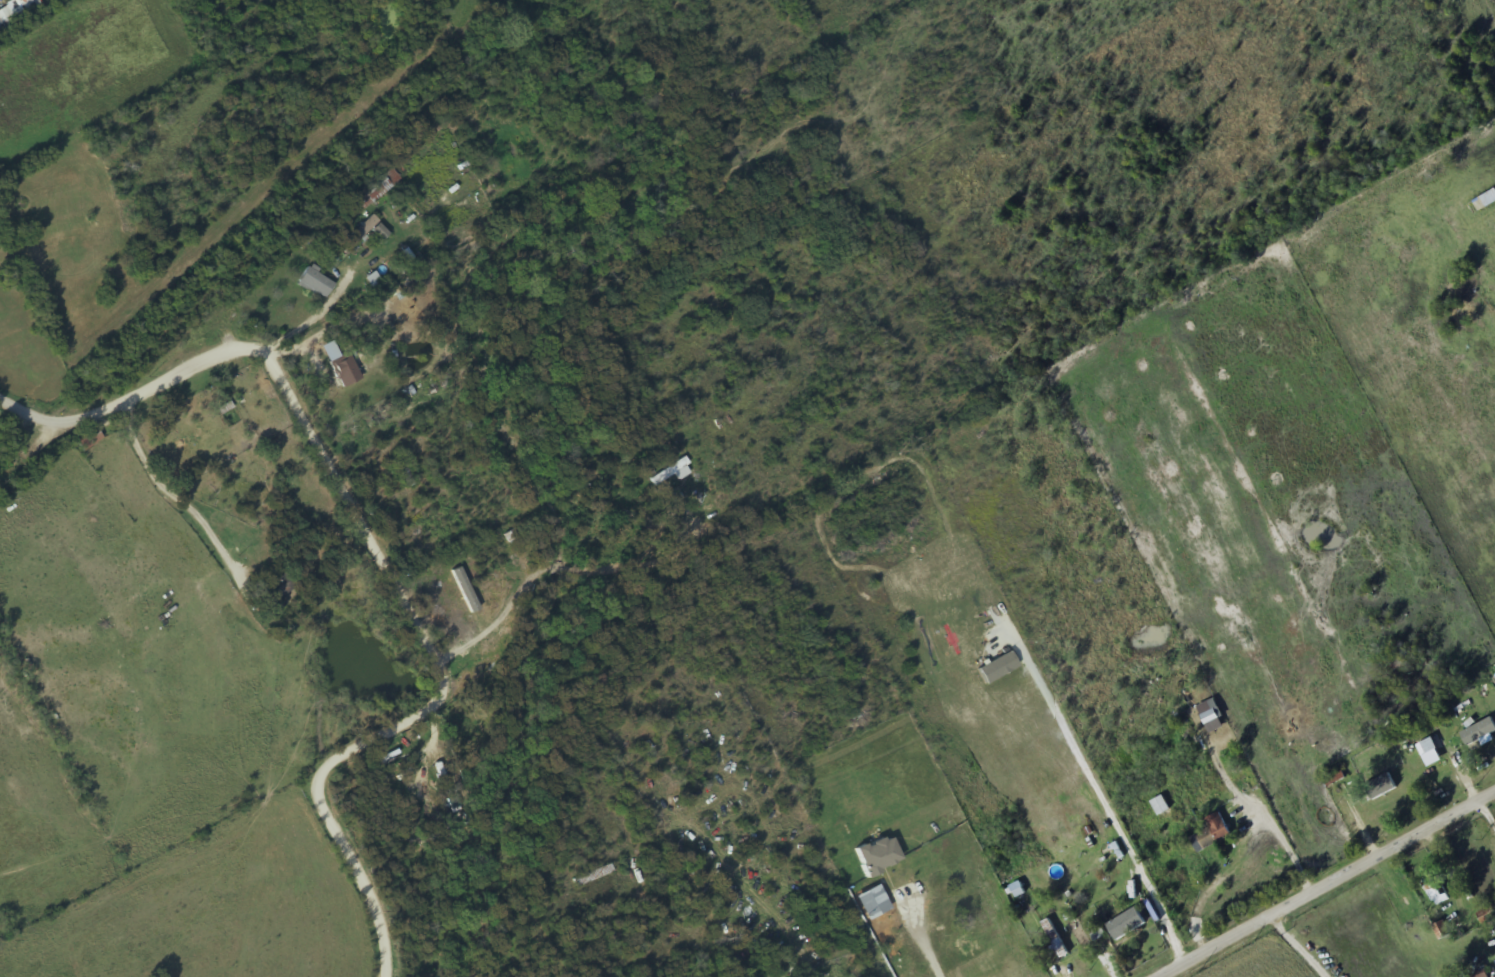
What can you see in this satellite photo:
building: (378, 187)
building: (1483, 202)
railway: (264, 235)
building: (353, 238)
building: (315, 283)
building: (344, 370)
building: (89, 440)
building: (674, 469)
road: (385, 555)
building: (281, 587)
road: (459, 614)
building: (1211, 716)
building: (1478, 728)
building: (1429, 746)
road: (1458, 765)
building: (1379, 788)
building: (1160, 806)
building: (1212, 833)
building: (922, 843)
building: (593, 875)
road: (1326, 885)
building: (1436, 892)
building: (1125, 924)
building: (1055, 940)
building: (1029, 958)
building: (1006, 975)

